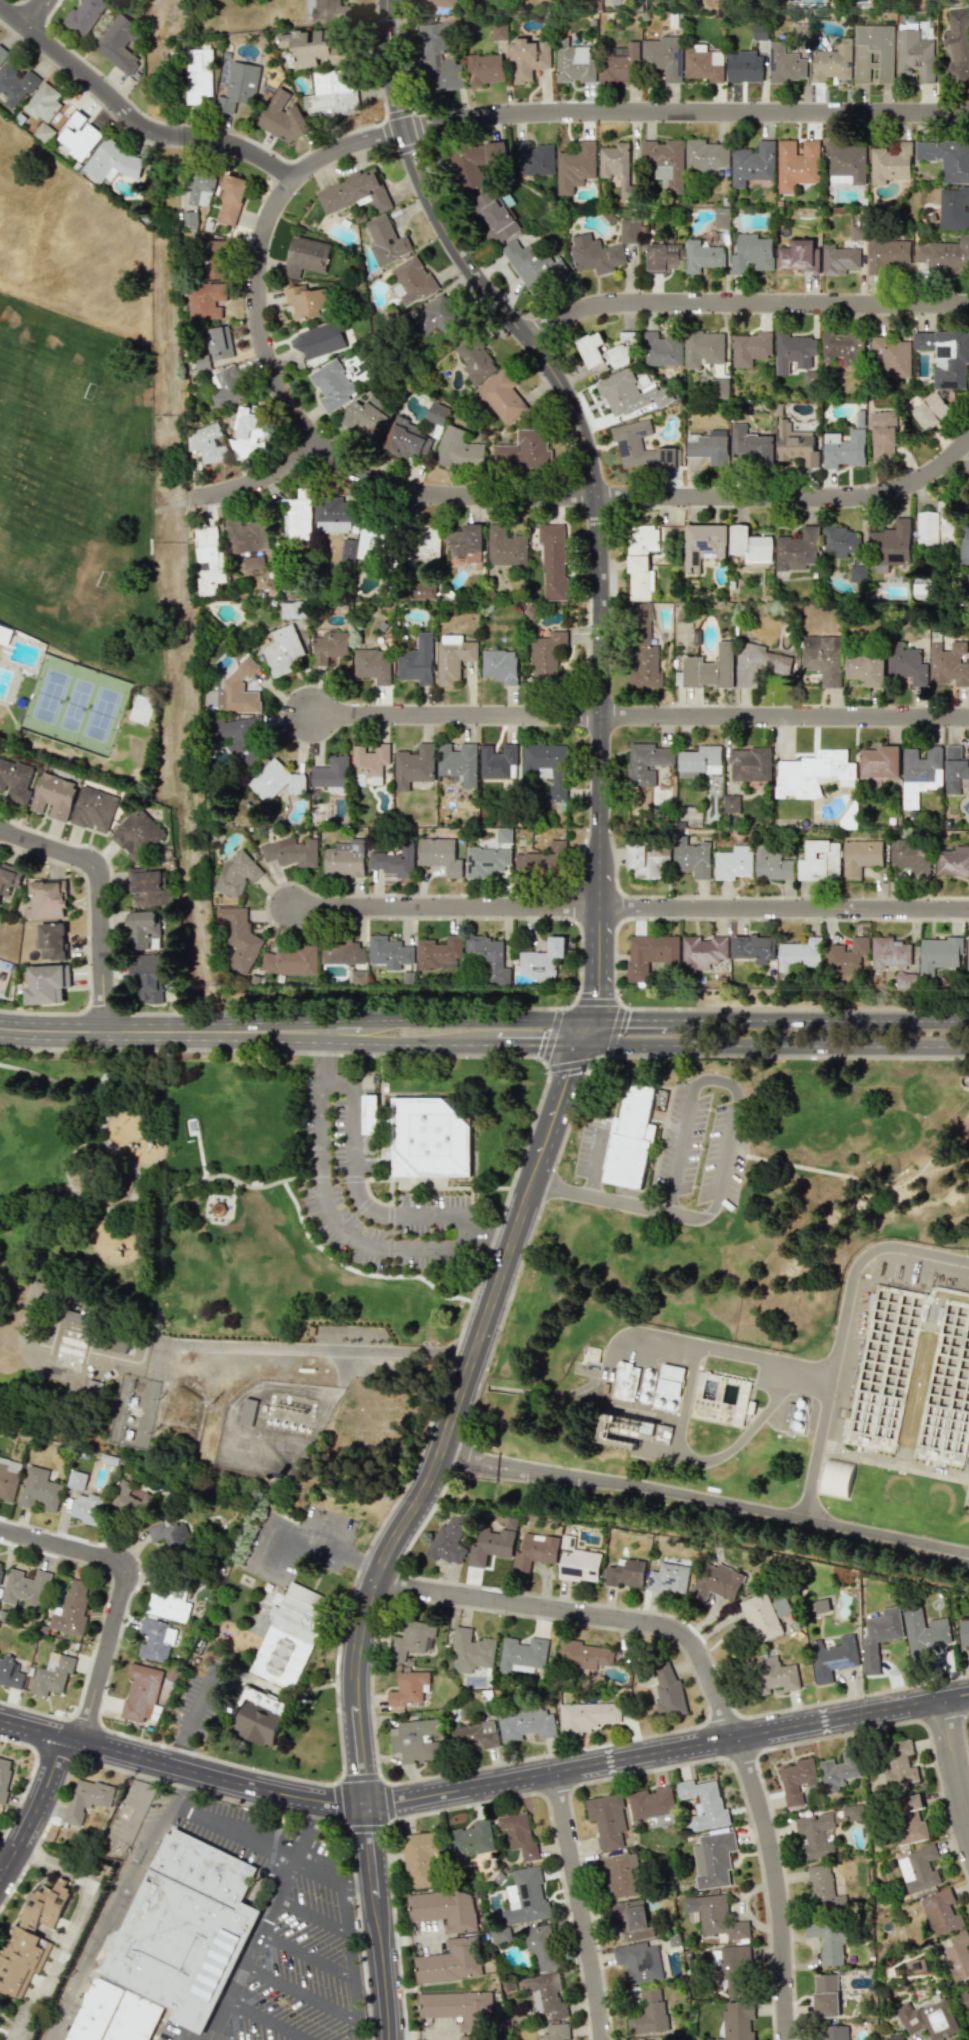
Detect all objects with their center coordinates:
building: (438, 3)
building: (328, 10)
road: (37, 15)
building: (84, 16)
building: (499, 31)
building: (759, 31)
building: (119, 43)
building: (957, 44)
building: (316, 46)
building: (2, 53)
building: (872, 53)
building: (914, 54)
building: (662, 56)
building: (440, 59)
building: (528, 59)
building: (574, 62)
building: (832, 62)
building: (619, 63)
building: (703, 63)
building: (784, 64)
building: (743, 66)
building: (484, 69)
building: (198, 75)
building: (15, 85)
building: (239, 87)
building: (332, 94)
building: (43, 103)
building: (283, 119)
road: (135, 121)
building: (78, 136)
road: (342, 149)
building: (706, 155)
building: (532, 159)
building: (947, 159)
building: (111, 161)
building: (475, 162)
building: (665, 162)
building: (753, 163)
building: (845, 163)
building: (890, 163)
building: (797, 164)
building: (574, 167)
building: (618, 168)
building: (200, 189)
building: (355, 193)
building: (231, 199)
building: (954, 209)
building: (494, 215)
building: (722, 218)
building: (859, 228)
building: (628, 231)
building: (386, 241)
building: (752, 253)
building: (595, 254)
building: (889, 255)
building: (944, 255)
building: (306, 256)
building: (703, 256)
building: (799, 256)
building: (663, 257)
building: (213, 259)
building: (839, 259)
building: (532, 267)
building: (412, 281)
building: (207, 300)
building: (307, 302)
road: (744, 305)
building: (441, 319)
building: (320, 340)
building: (220, 342)
building: (704, 348)
building: (751, 348)
building: (843, 348)
building: (661, 349)
building: (795, 351)
building: (605, 352)
building: (893, 356)
building: (947, 356)
building: (475, 361)
building: (202, 362)
building: (332, 385)
building: (228, 387)
building: (720, 388)
building: (629, 394)
building: (500, 396)
building: (931, 411)
building: (437, 413)
building: (368, 416)
building: (249, 433)
building: (883, 433)
park: (80, 439)
building: (407, 439)
road: (968, 441)
building: (795, 443)
building: (633, 444)
building: (751, 444)
building: (207, 445)
building: (709, 446)
building: (843, 449)
building: (458, 450)
building: (524, 451)
building: (667, 457)
road: (256, 481)
road: (593, 483)
road: (790, 497)
building: (298, 515)
building: (333, 515)
building: (935, 528)
building: (246, 536)
building: (370, 539)
building: (840, 541)
building: (964, 541)
building: (465, 542)
building: (703, 544)
building: (750, 545)
building: (891, 545)
building: (424, 546)
building: (505, 548)
building: (347, 549)
building: (798, 549)
building: (209, 559)
building: (552, 560)
building: (640, 561)
building: (253, 562)
building: (858, 573)
building: (967, 576)
building: (422, 589)
building: (923, 591)
building: (293, 610)
building: (5, 634)
building: (329, 646)
building: (642, 649)
building: (283, 651)
building: (546, 654)
building: (453, 657)
building: (824, 658)
building: (416, 661)
building: (949, 663)
building: (761, 664)
building: (906, 664)
building: (373, 665)
building: (499, 666)
building: (712, 668)
building: (867, 668)
building: (239, 689)
park: (49, 695)
park: (75, 704)
park: (140, 708)
park: (100, 712)
road: (640, 717)
building: (237, 736)
building: (498, 761)
building: (702, 761)
building: (881, 761)
building: (458, 763)
building: (646, 763)
building: (369, 764)
building: (752, 764)
building: (413, 766)
building: (955, 768)
building: (816, 773)
building: (920, 773)
building: (332, 774)
building: (15, 780)
building: (276, 780)
building: (54, 796)
building: (733, 803)
building: (94, 809)
building: (136, 832)
building: (503, 835)
building: (292, 852)
building: (439, 855)
building: (862, 857)
building: (345, 858)
building: (691, 858)
building: (911, 858)
building: (542, 859)
building: (821, 860)
building: (647, 861)
building: (953, 861)
building: (393, 862)
building: (486, 862)
building: (734, 863)
building: (773, 864)
building: (238, 874)
building: (9, 878)
building: (968, 880)
building: (149, 888)
road: (97, 897)
building: (46, 900)
road: (629, 909)
building: (143, 928)
building: (240, 938)
building: (52, 941)
building: (753, 948)
building: (342, 952)
building: (389, 952)
building: (702, 952)
building: (890, 952)
building: (440, 953)
building: (968, 953)
building: (939, 954)
building: (801, 955)
building: (651, 956)
building: (846, 957)
building: (488, 958)
building: (290, 960)
building: (542, 960)
building: (358, 977)
building: (146, 978)
building: (906, 980)
building: (46, 984)
road: (631, 1018)
road: (456, 1019)
road: (818, 1019)
road: (110, 1028)
road: (269, 1029)
road: (589, 1030)
road: (449, 1043)
road: (776, 1044)
building: (370, 1114)
parking lot: (334, 1120)
building: (430, 1137)
building: (631, 1140)
road: (119, 1147)
road: (719, 1151)
road: (594, 1162)
road: (279, 1176)
road: (234, 1190)
road: (87, 1195)
road: (358, 1197)
park: (733, 1197)
park: (181, 1198)
road: (211, 1212)
road: (331, 1221)
road: (839, 1329)
road: (690, 1344)
road: (313, 1351)
building: (624, 1381)
building: (660, 1387)
building: (721, 1399)
building: (795, 1414)
road: (449, 1422)
building: (606, 1426)
building: (637, 1433)
road: (705, 1461)
road: (892, 1462)
road: (511, 1463)
road: (509, 1472)
building: (837, 1478)
building: (76, 1480)
building: (7, 1483)
building: (39, 1490)
building: (131, 1499)
building: (86, 1507)
road: (776, 1511)
building: (170, 1535)
road: (315, 1543)
road: (65, 1544)
building: (446, 1544)
building: (490, 1545)
building: (535, 1552)
building: (577, 1562)
road: (267, 1566)
building: (1, 1568)
road: (366, 1571)
building: (625, 1573)
building: (668, 1578)
building: (717, 1582)
building: (26, 1588)
building: (169, 1605)
building: (821, 1605)
building: (71, 1609)
building: (761, 1617)
road: (98, 1625)
building: (924, 1632)
building: (964, 1632)
building: (291, 1635)
building: (879, 1636)
building: (156, 1640)
building: (410, 1640)
building: (471, 1650)
road: (106, 1652)
building: (583, 1654)
building: (524, 1655)
building: (832, 1657)
building: (10, 1673)
building: (52, 1675)
building: (770, 1675)
road: (709, 1681)
building: (408, 1688)
building: (667, 1690)
building: (141, 1692)
building: (260, 1712)
building: (587, 1716)
road: (194, 1718)
building: (527, 1724)
road: (32, 1729)
building: (472, 1735)
road: (628, 1738)
building: (417, 1740)
road: (669, 1751)
road: (955, 1761)
building: (900, 1764)
building: (840, 1771)
road: (215, 1774)
building: (4, 1775)
building: (797, 1780)
building: (86, 1799)
road: (387, 1800)
road: (479, 1801)
building: (651, 1802)
building: (704, 1804)
road: (138, 1810)
road: (37, 1812)
road: (162, 1816)
building: (909, 1818)
building: (607, 1820)
road: (308, 1827)
building: (519, 1835)
building: (815, 1835)
building: (471, 1839)
road: (273, 1845)
building: (419, 1858)
building: (713, 1859)
building: (919, 1869)
building: (620, 1874)
building: (823, 1888)
building: (525, 1897)
road: (581, 1906)
building: (443, 1907)
building: (941, 1912)
road: (310, 1915)
building: (715, 1916)
road: (381, 1921)
building: (631, 1921)
road: (72, 1928)
parking lot: (289, 1929)
building: (30, 1938)
building: (828, 1940)
road: (251, 1947)
building: (540, 1947)
building: (168, 1948)
road: (90, 1951)
road: (304, 1955)
building: (959, 1955)
road: (349, 1956)
building: (450, 1961)
building: (639, 1961)
building: (734, 1970)
road: (299, 1990)
building: (545, 1994)
building: (826, 1995)
building: (965, 1999)
building: (459, 2008)
building: (650, 2013)
building: (930, 2018)
road: (266, 2019)
building: (737, 2021)
building: (555, 2032)
building: (836, 2032)
building: (476, 2037)
road: (211, 2038)
building: (895, 2038)
building: (644, 2039)

